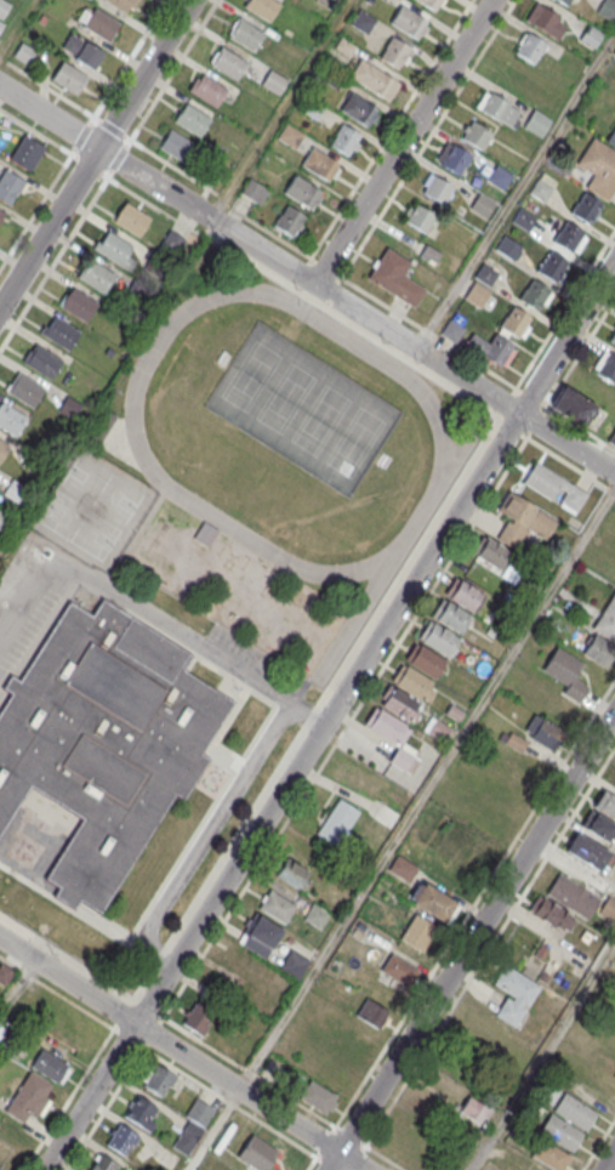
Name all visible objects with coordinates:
building: (563, 2)
building: (429, 4)
building: (120, 5)
building: (2, 6)
building: (607, 7)
building: (262, 8)
building: (361, 21)
building: (0, 22)
building: (545, 22)
building: (408, 23)
building: (101, 25)
building: (591, 35)
building: (246, 36)
building: (530, 47)
building: (81, 51)
building: (394, 51)
building: (614, 51)
building: (24, 52)
road: (130, 58)
building: (228, 66)
road: (173, 69)
building: (68, 79)
building: (274, 81)
building: (374, 81)
building: (209, 92)
building: (311, 106)
building: (495, 108)
building: (358, 109)
building: (193, 121)
building: (536, 124)
road: (391, 129)
building: (289, 135)
building: (477, 136)
building: (611, 138)
building: (343, 141)
road: (403, 141)
building: (177, 147)
building: (25, 152)
road: (95, 153)
building: (452, 157)
building: (319, 165)
building: (599, 169)
building: (499, 177)
building: (10, 187)
building: (540, 189)
building: (254, 191)
building: (437, 191)
road: (516, 191)
building: (301, 193)
building: (480, 204)
building: (586, 209)
road: (35, 210)
building: (1, 216)
building: (523, 217)
building: (289, 220)
building: (420, 220)
building: (131, 221)
building: (568, 238)
road: (66, 244)
building: (172, 244)
building: (506, 246)
building: (115, 251)
building: (428, 254)
road: (320, 266)
building: (551, 267)
building: (485, 273)
building: (96, 277)
road: (307, 279)
building: (395, 279)
building: (476, 294)
building: (534, 296)
building: (78, 306)
road: (565, 307)
building: (513, 323)
building: (451, 330)
building: (61, 334)
building: (611, 337)
building: (496, 351)
building: (41, 363)
building: (605, 367)
road: (558, 387)
building: (24, 391)
building: (69, 408)
building: (577, 408)
park: (303, 410)
building: (10, 420)
building: (101, 428)
building: (611, 437)
building: (2, 449)
road: (570, 466)
building: (554, 487)
building: (15, 490)
building: (4, 521)
building: (522, 521)
building: (205, 535)
building: (491, 552)
building: (463, 596)
road: (149, 612)
building: (450, 617)
building: (607, 621)
building: (437, 640)
building: (598, 652)
building: (423, 661)
building: (565, 674)
building: (414, 683)
road: (329, 715)
building: (383, 726)
road: (344, 728)
building: (437, 731)
building: (543, 732)
building: (104, 742)
building: (516, 742)
building: (607, 803)
building: (336, 823)
building: (599, 827)
road: (402, 829)
road: (203, 839)
building: (586, 853)
building: (291, 873)
building: (573, 896)
building: (432, 902)
road: (474, 903)
building: (275, 907)
building: (609, 908)
building: (551, 913)
building: (314, 916)
building: (417, 932)
building: (260, 935)
road: (472, 941)
road: (490, 947)
building: (295, 962)
building: (399, 970)
building: (4, 975)
road: (17, 988)
building: (514, 992)
road: (56, 993)
building: (201, 1011)
building: (372, 1012)
building: (478, 1034)
road: (542, 1052)
road: (183, 1053)
building: (50, 1068)
building: (158, 1081)
building: (318, 1097)
building: (29, 1100)
road: (68, 1100)
building: (471, 1108)
building: (141, 1113)
building: (574, 1113)
building: (192, 1128)
road: (336, 1129)
building: (560, 1135)
building: (123, 1141)
road: (599, 1145)
building: (258, 1154)
building: (549, 1157)
road: (609, 1160)
building: (103, 1164)
road: (312, 1164)

